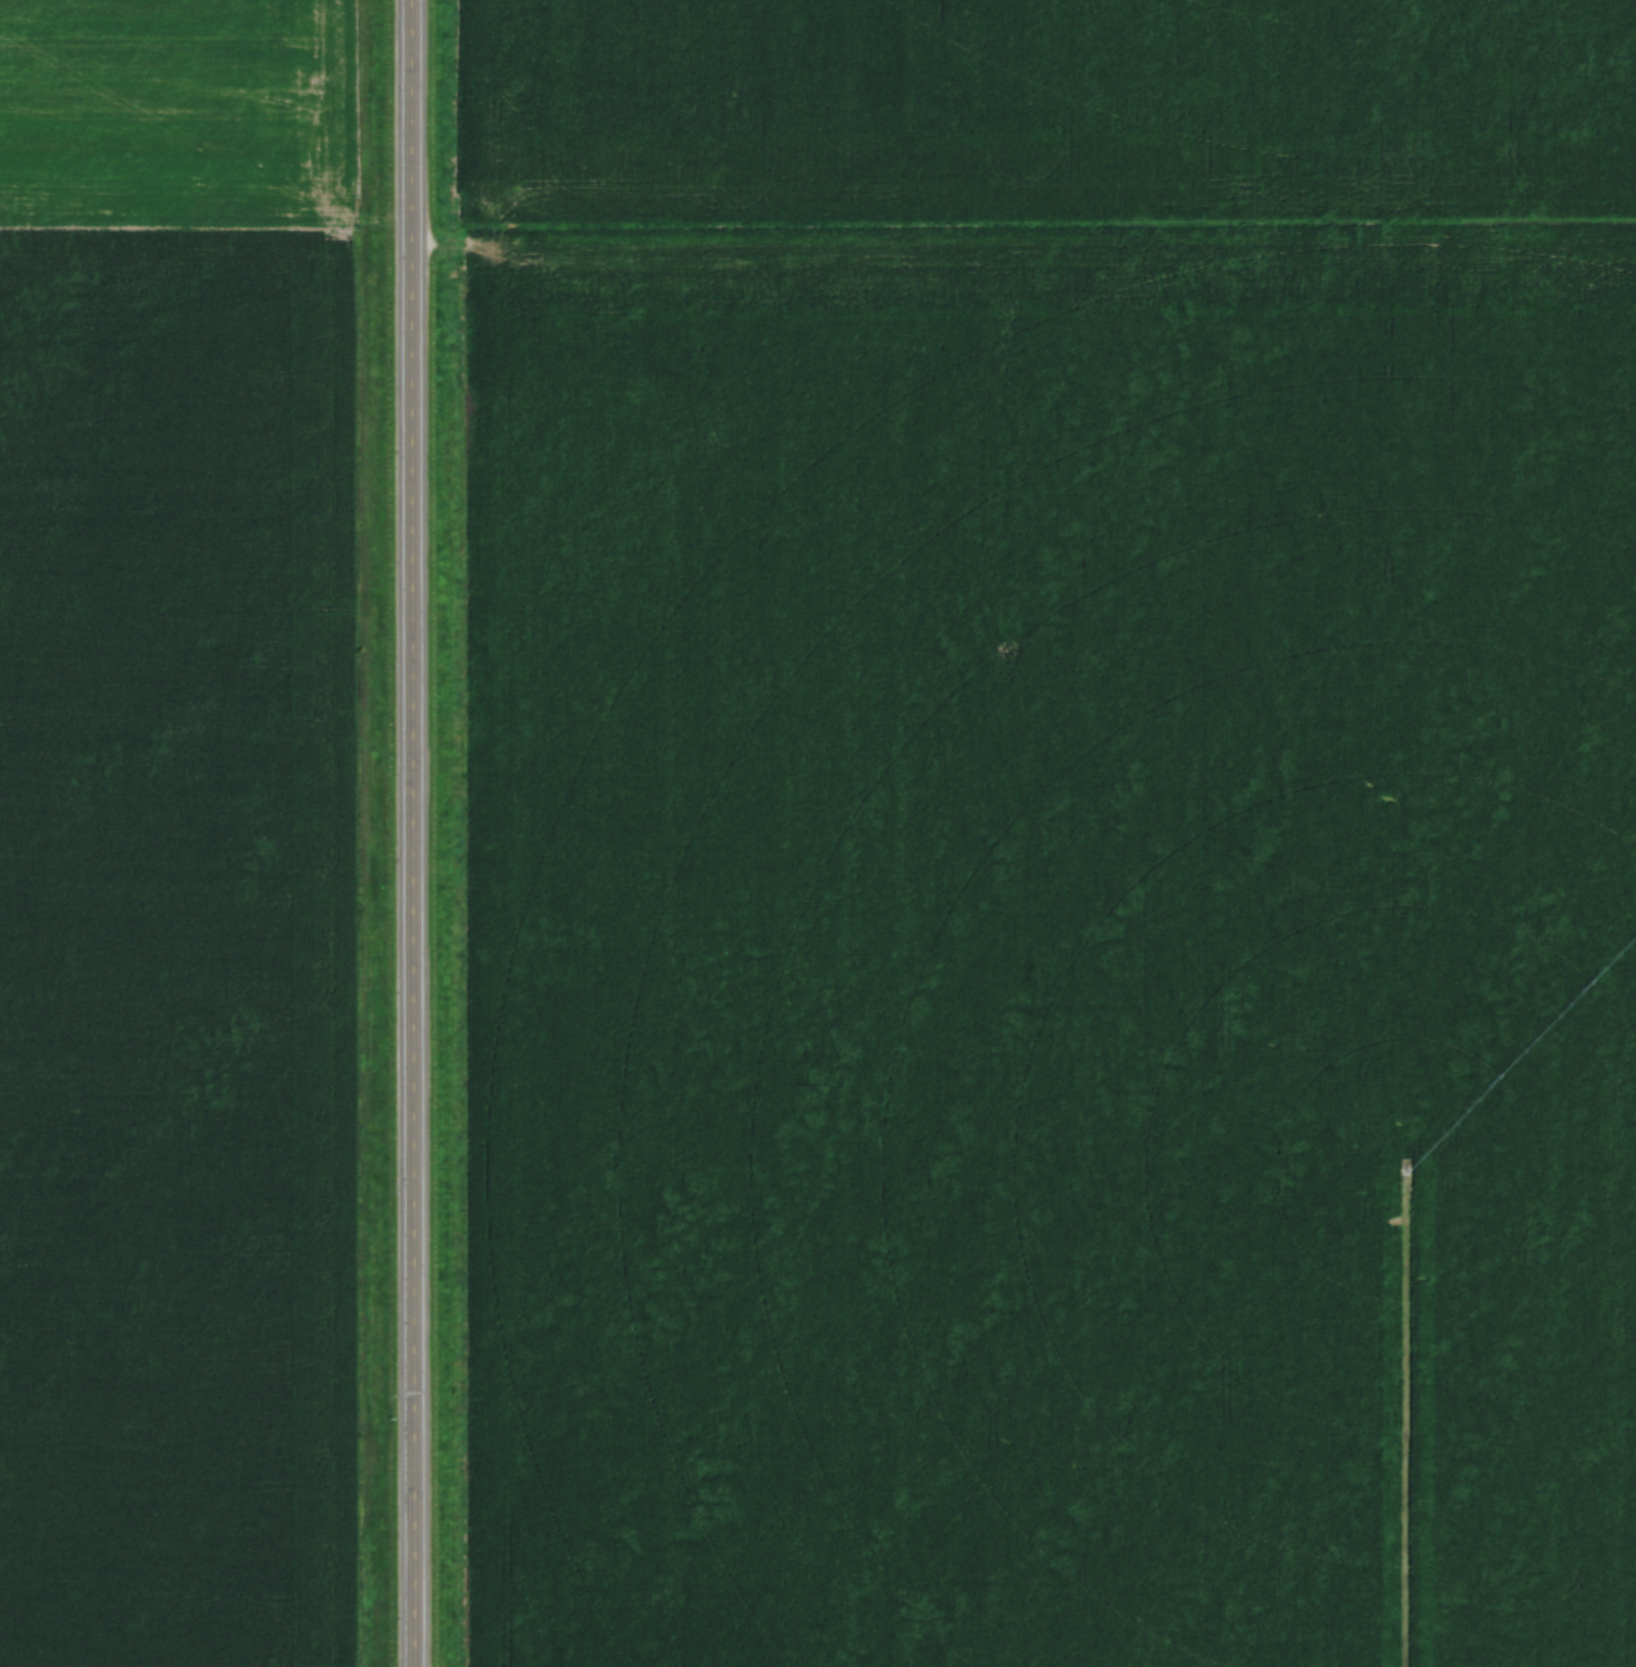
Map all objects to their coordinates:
road: (409, 832)
building: (406, 1346)

